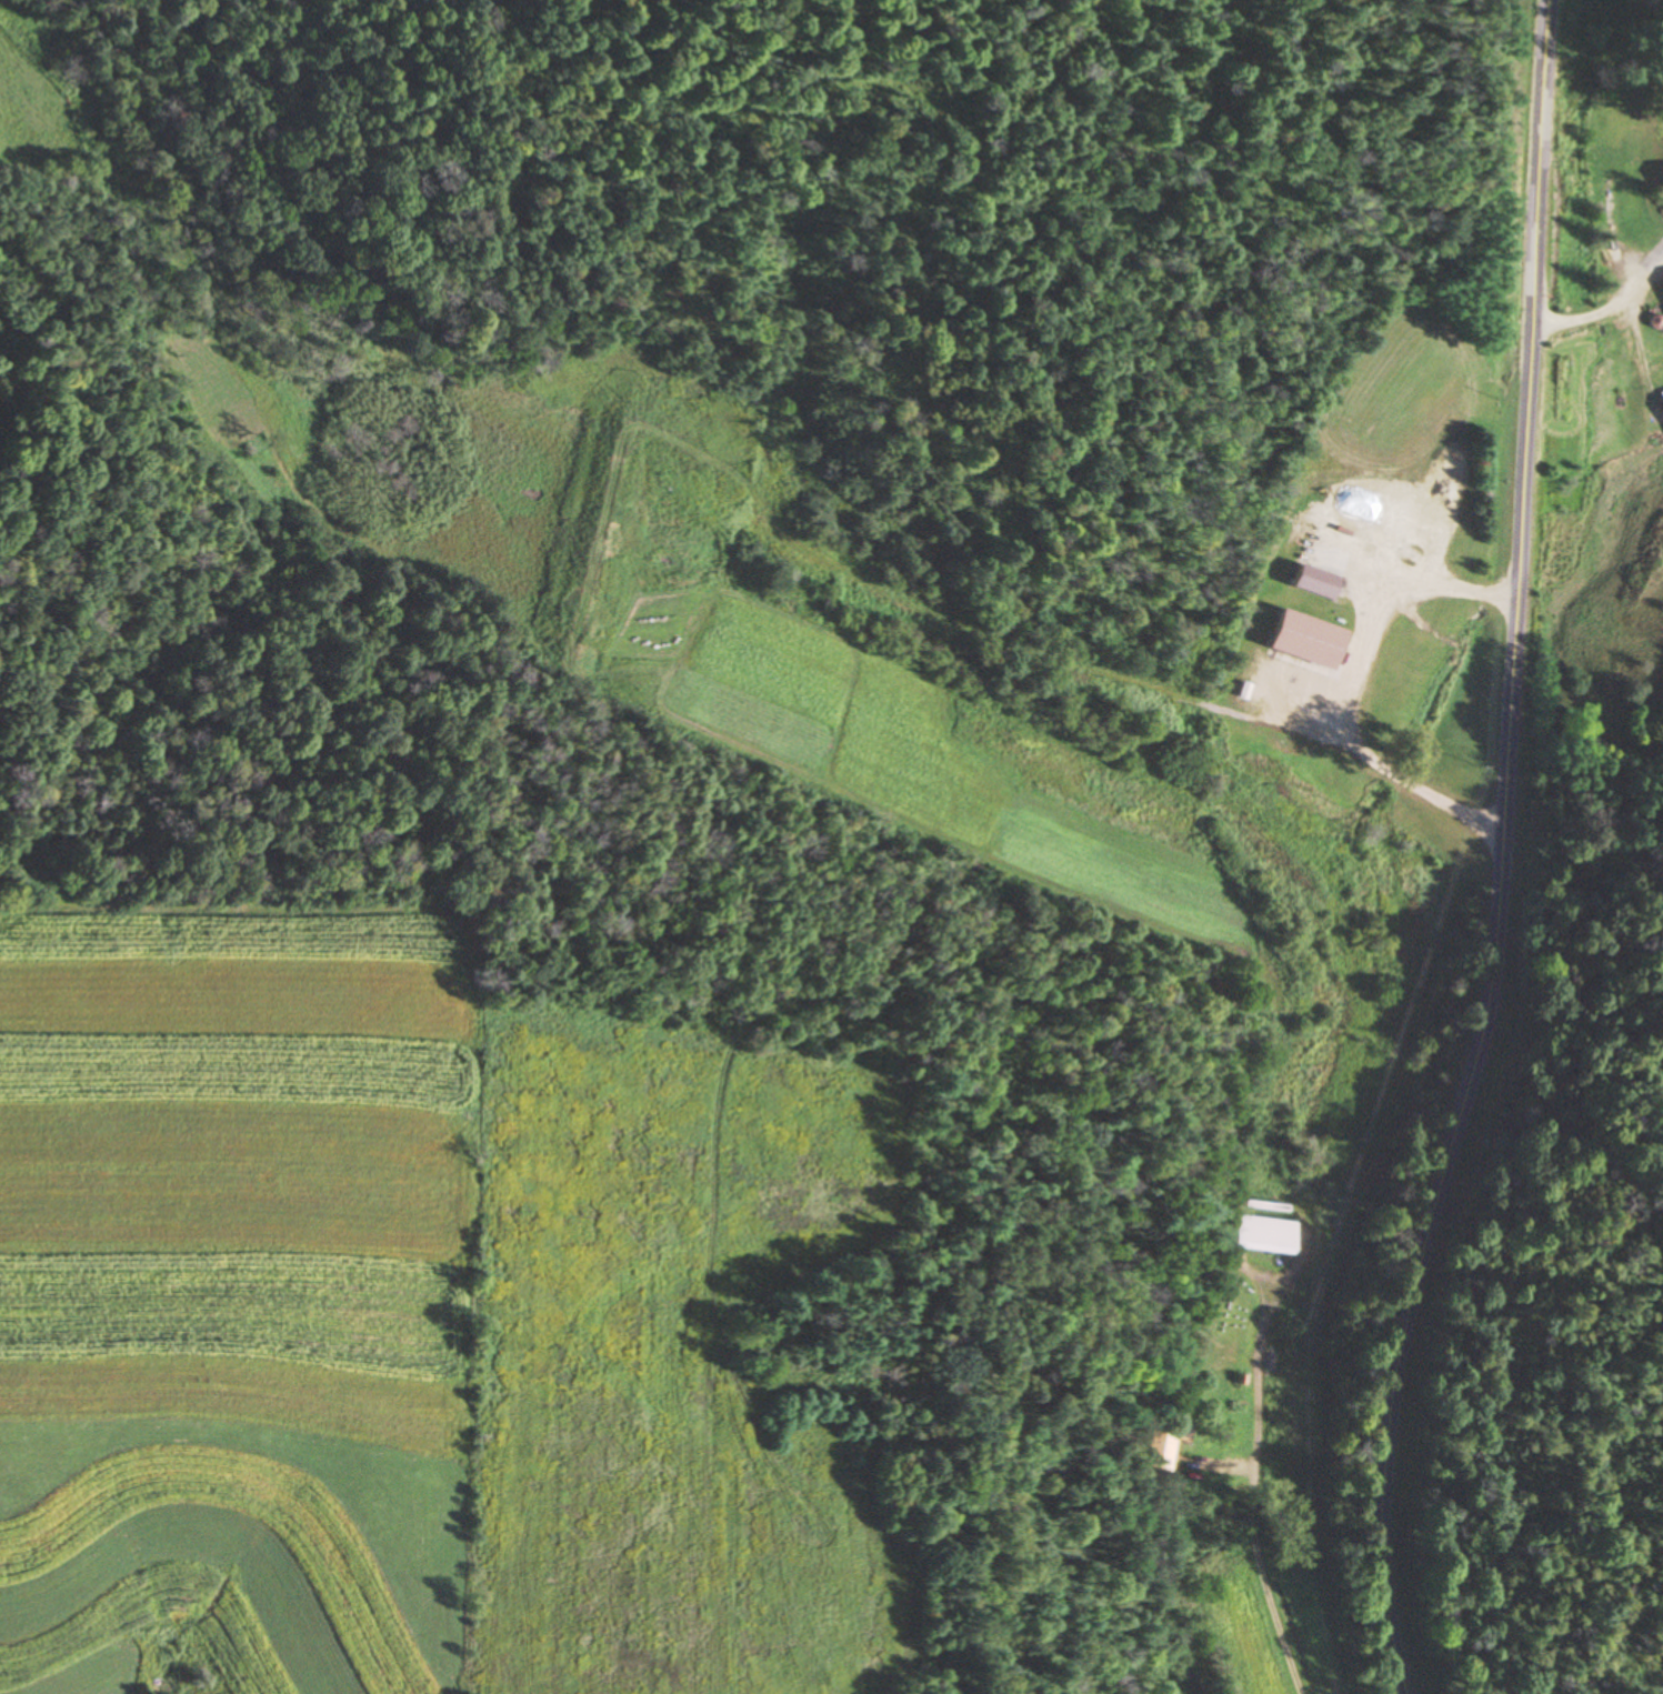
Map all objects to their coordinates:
building: (1626, 144)
building: (1660, 181)
building: (1662, 288)
building: (1660, 408)
building: (1314, 583)
building: (1304, 641)
road: (1497, 853)
building: (1262, 1236)
building: (1236, 1337)
building: (1173, 1429)
building: (1158, 1451)
road: (1251, 1495)

